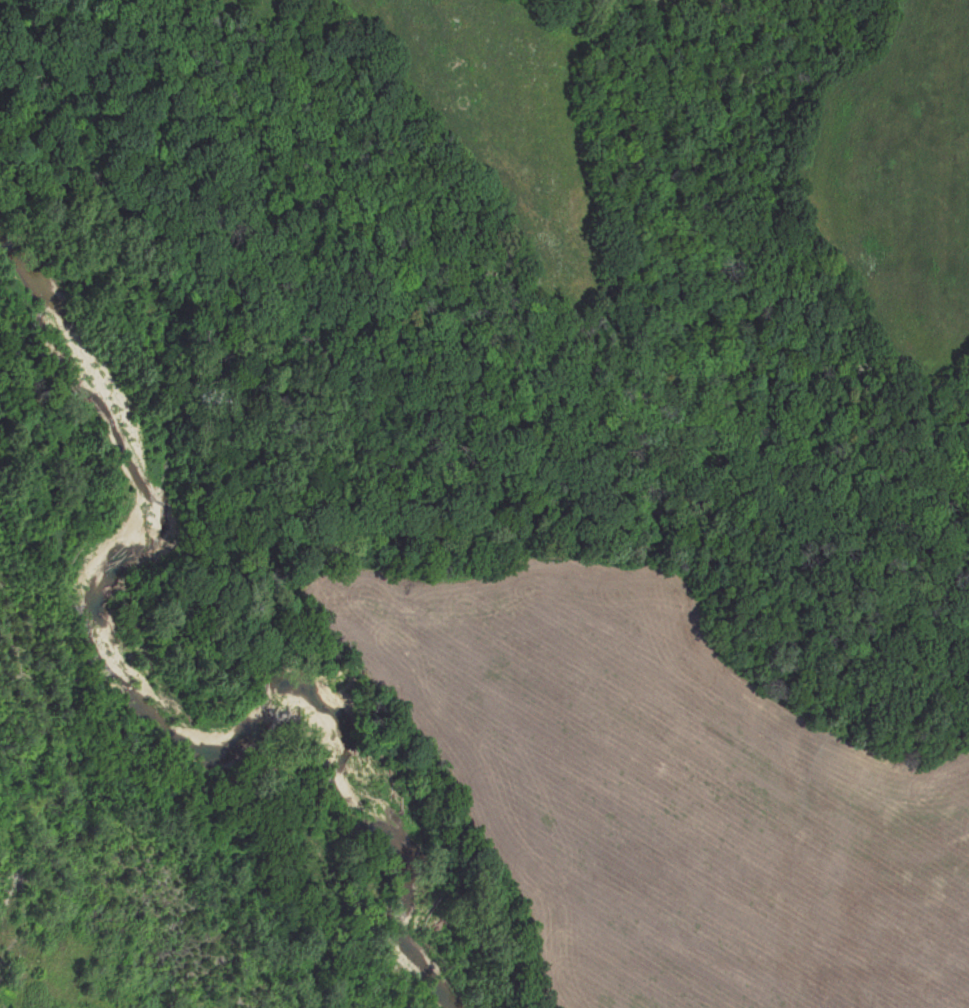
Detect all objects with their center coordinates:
river: (127, 678)

